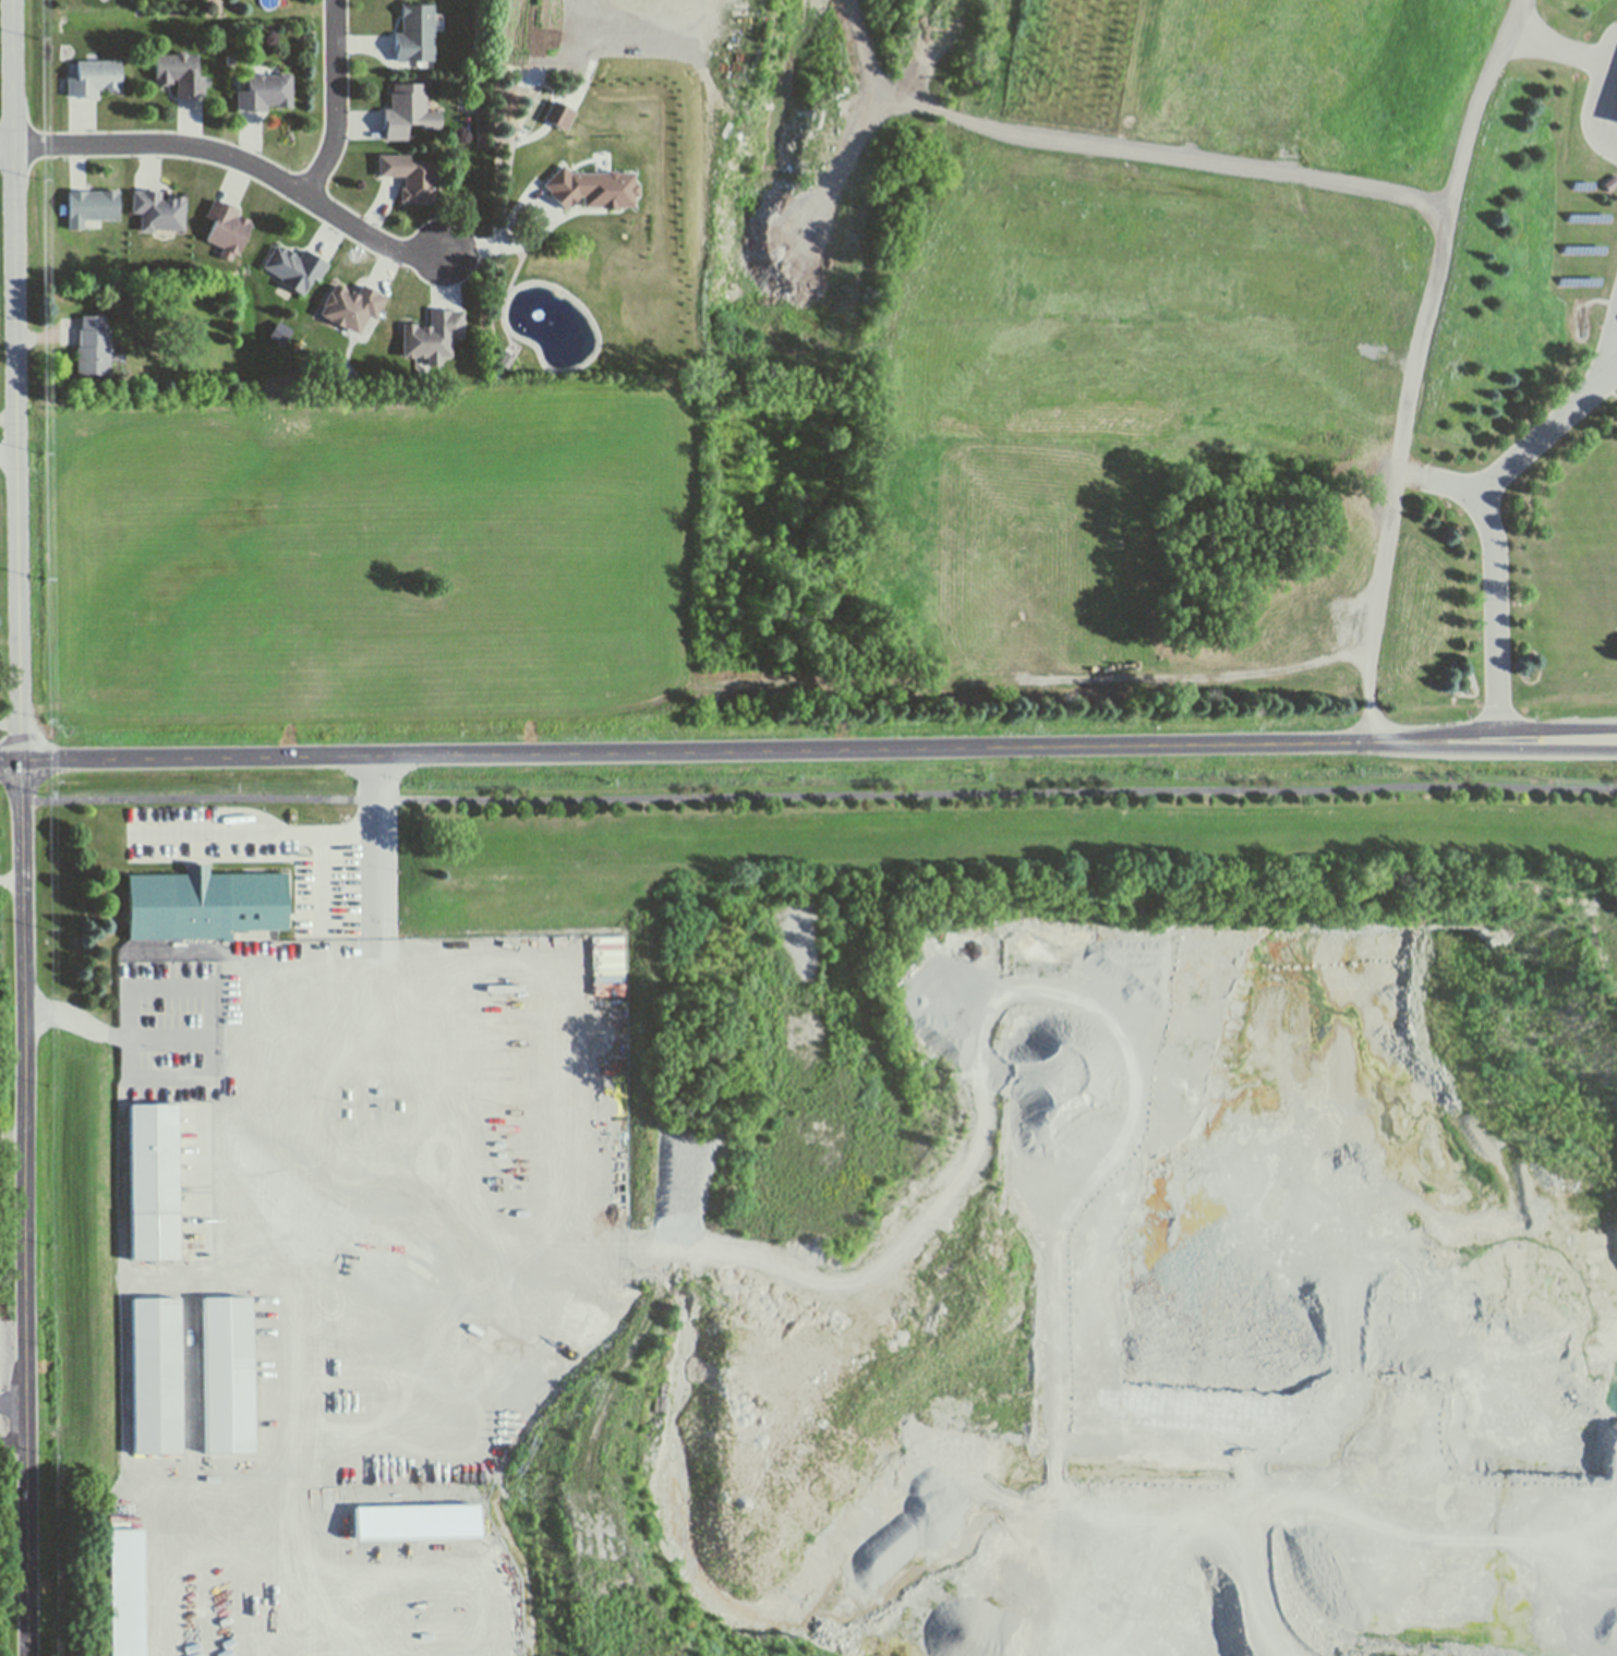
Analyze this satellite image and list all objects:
building: (438, 24)
building: (418, 34)
road: (1560, 49)
building: (230, 59)
building: (179, 73)
building: (93, 76)
building: (266, 90)
road: (337, 102)
building: (432, 105)
road: (1602, 106)
building: (408, 110)
building: (563, 113)
building: (470, 118)
building: (572, 120)
building: (558, 134)
road: (15, 142)
road: (234, 157)
building: (624, 157)
building: (412, 176)
building: (592, 188)
building: (92, 205)
building: (159, 210)
building: (227, 227)
solar farm: (1586, 234)
road: (502, 240)
building: (295, 267)
building: (352, 306)
building: (280, 331)
building: (433, 335)
landfill: (1045, 341)
building: (93, 347)
road: (1614, 351)
road: (1411, 364)
building: (372, 374)
road: (9, 416)
road: (9, 449)
road: (1441, 484)
road: (1489, 524)
crop: (366, 568)
road: (1557, 729)
road: (1557, 747)
road: (759, 749)
road: (10, 757)
road: (819, 794)
road: (260, 834)
road: (322, 880)
road: (383, 886)
building: (180, 907)
road: (22, 969)
road: (206, 1036)
building: (153, 1158)
quarry: (830, 1206)
building: (154, 1235)
road: (910, 1245)
building: (372, 1254)
building: (155, 1375)
building: (228, 1377)
road: (12, 1402)
road: (13, 1428)
building: (425, 1531)
building: (131, 1594)
road: (1153, 1651)

